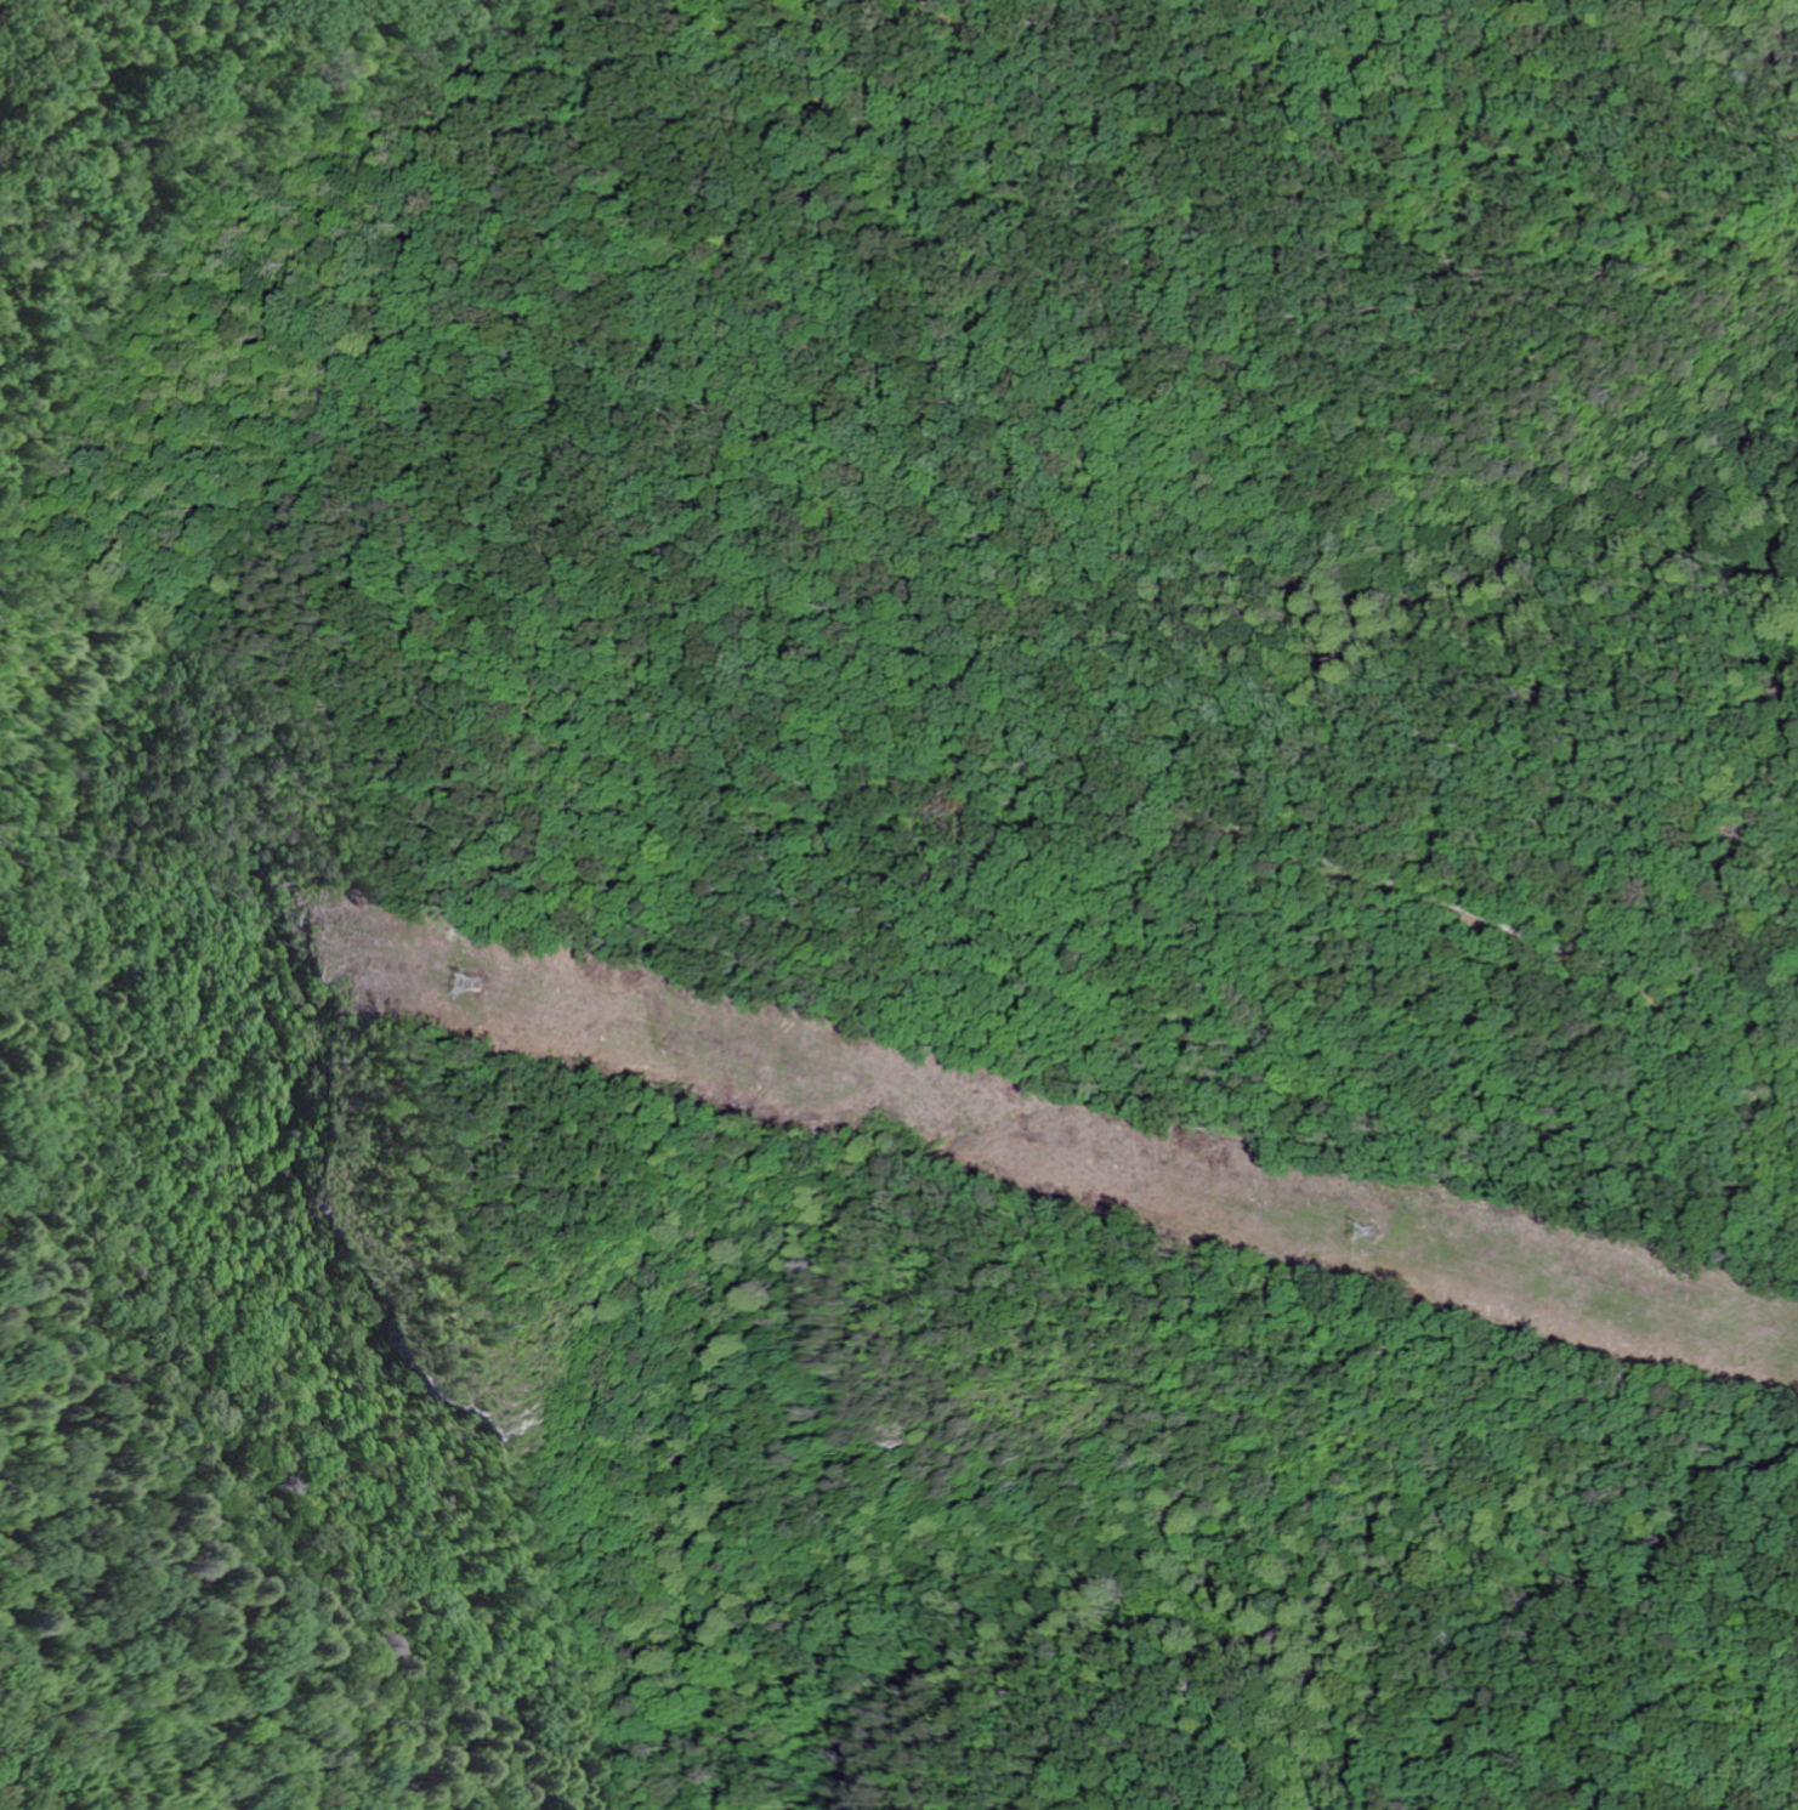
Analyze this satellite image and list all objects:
road: (1051, 720)

